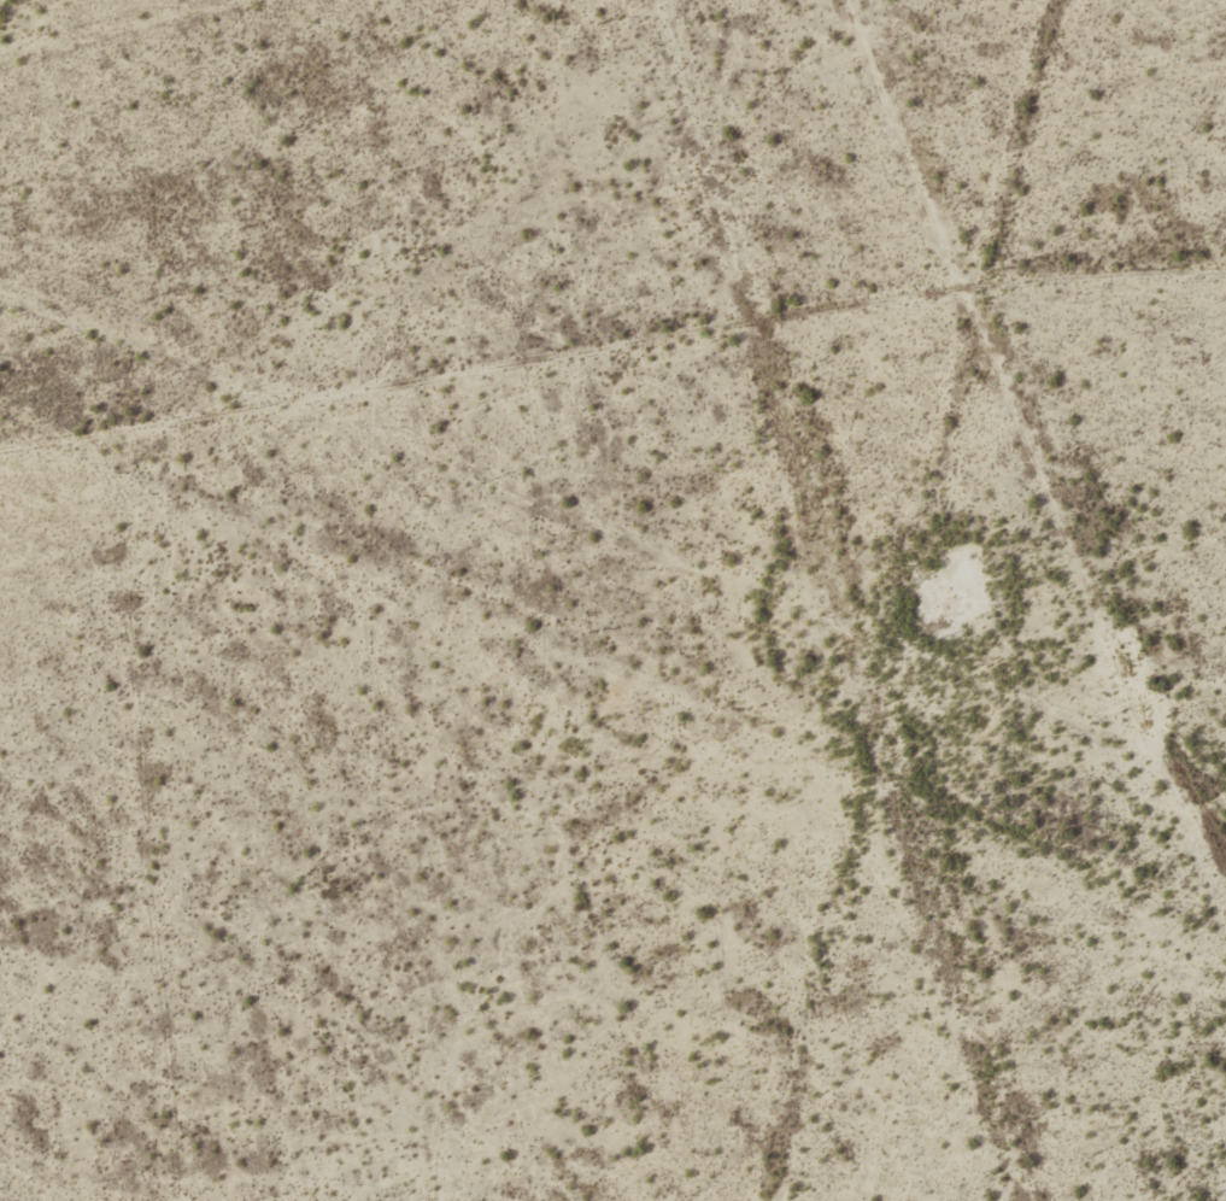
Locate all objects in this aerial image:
power tower: (59, 315)
power tower: (252, 391)
power tower: (486, 482)
power tower: (699, 567)
power tower: (911, 651)
power tower: (1095, 723)

